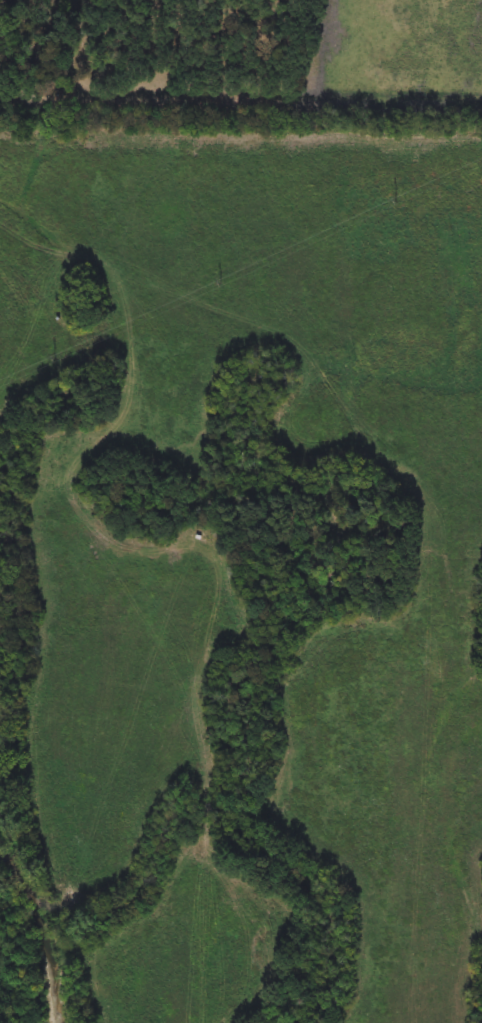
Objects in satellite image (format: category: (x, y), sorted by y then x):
power tower: (395, 205)
power tower: (222, 283)
power tower: (56, 362)
river: (42, 917)

